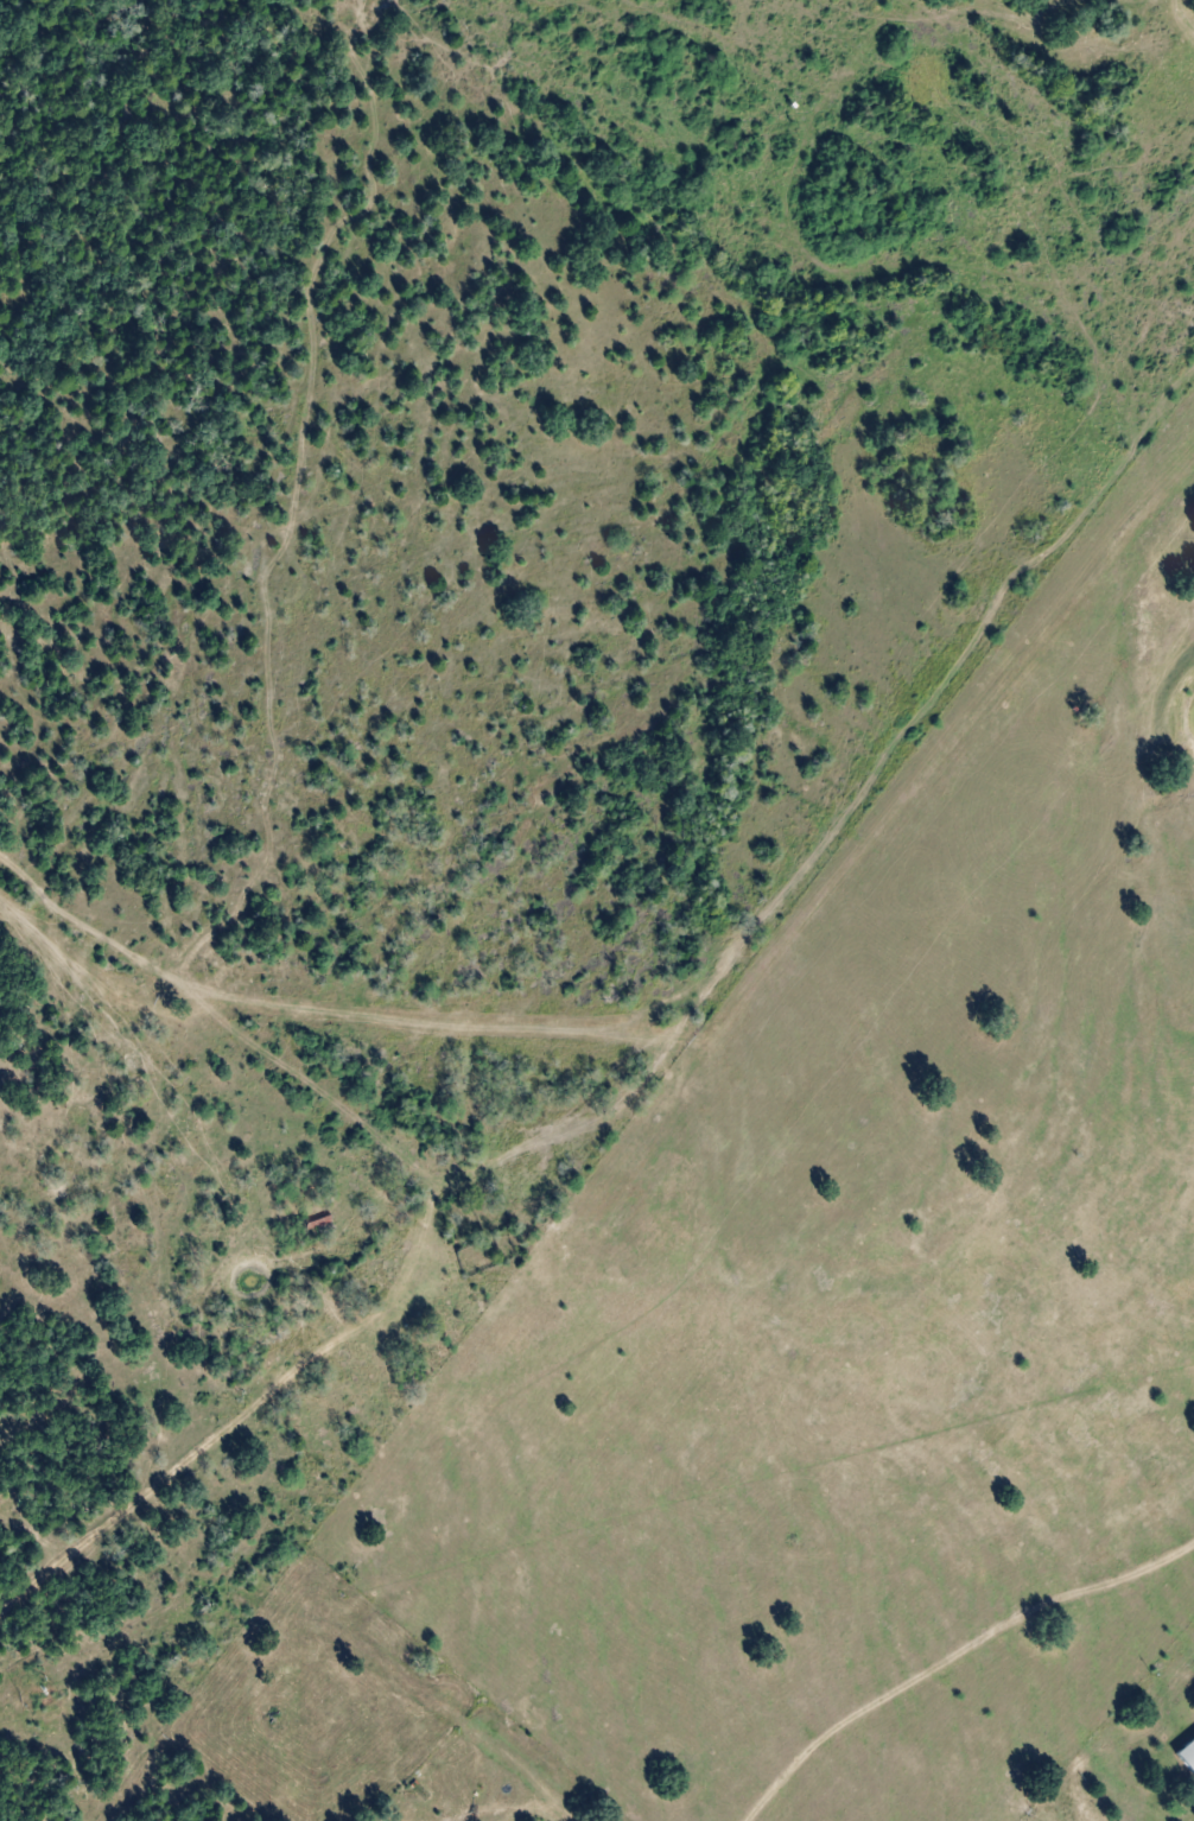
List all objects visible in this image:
road: (366, 1597)
building: (1187, 1756)

